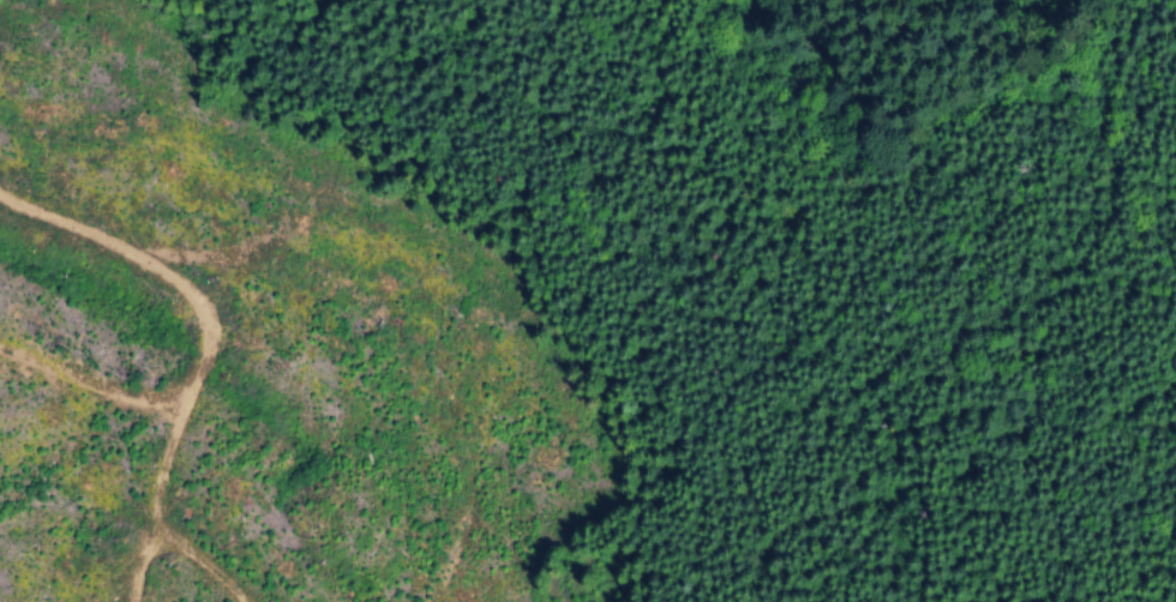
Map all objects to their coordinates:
road: (997, 17)

